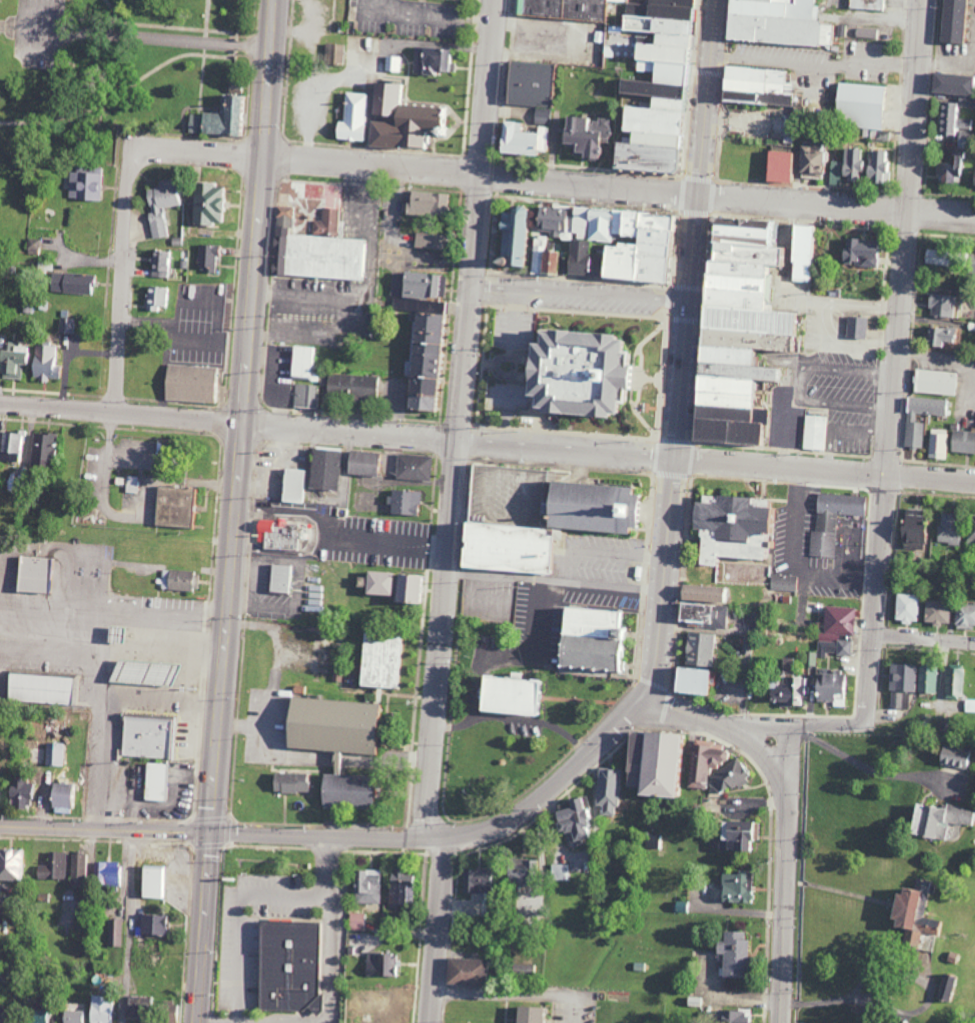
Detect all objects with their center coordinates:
building: (867, 4)
building: (562, 9)
building: (949, 21)
building: (773, 22)
road: (147, 39)
building: (333, 54)
building: (431, 61)
park: (127, 78)
building: (526, 84)
building: (755, 85)
building: (951, 86)
building: (652, 87)
building: (856, 105)
building: (223, 118)
building: (349, 119)
building: (400, 120)
building: (950, 120)
building: (581, 135)
building: (540, 139)
building: (512, 140)
building: (807, 163)
building: (774, 167)
building: (860, 168)
building: (948, 168)
road: (482, 174)
building: (972, 176)
building: (92, 186)
road: (837, 200)
building: (204, 204)
building: (422, 204)
building: (161, 205)
road: (125, 219)
building: (573, 223)
building: (509, 236)
building: (316, 241)
building: (424, 241)
building: (624, 251)
building: (799, 253)
building: (857, 253)
building: (207, 257)
building: (541, 257)
building: (930, 257)
building: (161, 264)
building: (970, 266)
building: (738, 280)
building: (86, 284)
road: (580, 295)
building: (157, 298)
building: (940, 306)
road: (897, 316)
building: (70, 326)
building: (855, 328)
building: (418, 332)
building: (940, 336)
road: (685, 346)
building: (34, 361)
building: (303, 363)
building: (568, 375)
building: (187, 382)
building: (933, 382)
building: (350, 386)
building: (305, 396)
building: (724, 398)
road: (244, 416)
road: (459, 419)
road: (337, 430)
building: (813, 433)
building: (913, 435)
building: (936, 444)
building: (15, 448)
building: (49, 450)
building: (359, 462)
building: (412, 467)
building: (322, 468)
road: (824, 469)
building: (133, 484)
building: (292, 485)
building: (403, 501)
building: (173, 505)
building: (831, 520)
building: (731, 526)
building: (948, 528)
building: (971, 528)
building: (908, 530)
building: (279, 534)
road: (602, 552)
building: (34, 573)
building: (279, 578)
building: (178, 580)
building: (373, 582)
building: (783, 582)
building: (404, 587)
road: (602, 587)
building: (702, 592)
building: (905, 607)
building: (936, 612)
road: (114, 613)
building: (701, 613)
building: (964, 615)
building: (838, 619)
building: (113, 633)
building: (588, 638)
road: (925, 638)
road: (536, 641)
building: (843, 647)
building: (697, 648)
building: (826, 648)
road: (103, 655)
building: (376, 659)
building: (143, 672)
building: (901, 677)
building: (687, 679)
building: (926, 679)
building: (953, 683)
building: (829, 687)
building: (41, 689)
building: (785, 690)
building: (506, 694)
building: (899, 700)
road: (112, 704)
road: (536, 719)
road: (798, 723)
building: (326, 724)
building: (151, 737)
gas station: (151, 737)
building: (53, 753)
road: (767, 753)
building: (953, 756)
building: (652, 762)
building: (704, 762)
road: (863, 769)
building: (728, 775)
building: (155, 781)
building: (289, 782)
building: (19, 785)
building: (343, 790)
building: (606, 790)
building: (59, 797)
road: (174, 800)
building: (572, 819)
building: (936, 819)
road: (106, 827)
building: (735, 834)
road: (459, 838)
building: (10, 864)
building: (53, 866)
building: (77, 870)
building: (519, 871)
building: (560, 872)
road: (793, 873)
building: (109, 875)
building: (475, 880)
building: (152, 882)
building: (366, 886)
building: (734, 886)
building: (400, 889)
building: (912, 915)
building: (356, 921)
building: (153, 924)
road: (130, 925)
road: (205, 928)
road: (440, 931)
building: (115, 932)
building: (730, 953)
building: (380, 964)
building: (286, 966)
building: (463, 971)
building: (0, 976)
building: (948, 988)
road: (511, 996)
road: (733, 998)
road: (850, 1001)
building: (92, 1012)
building: (168, 1012)
building: (528, 1014)
building: (36, 1016)
building: (731, 1016)

